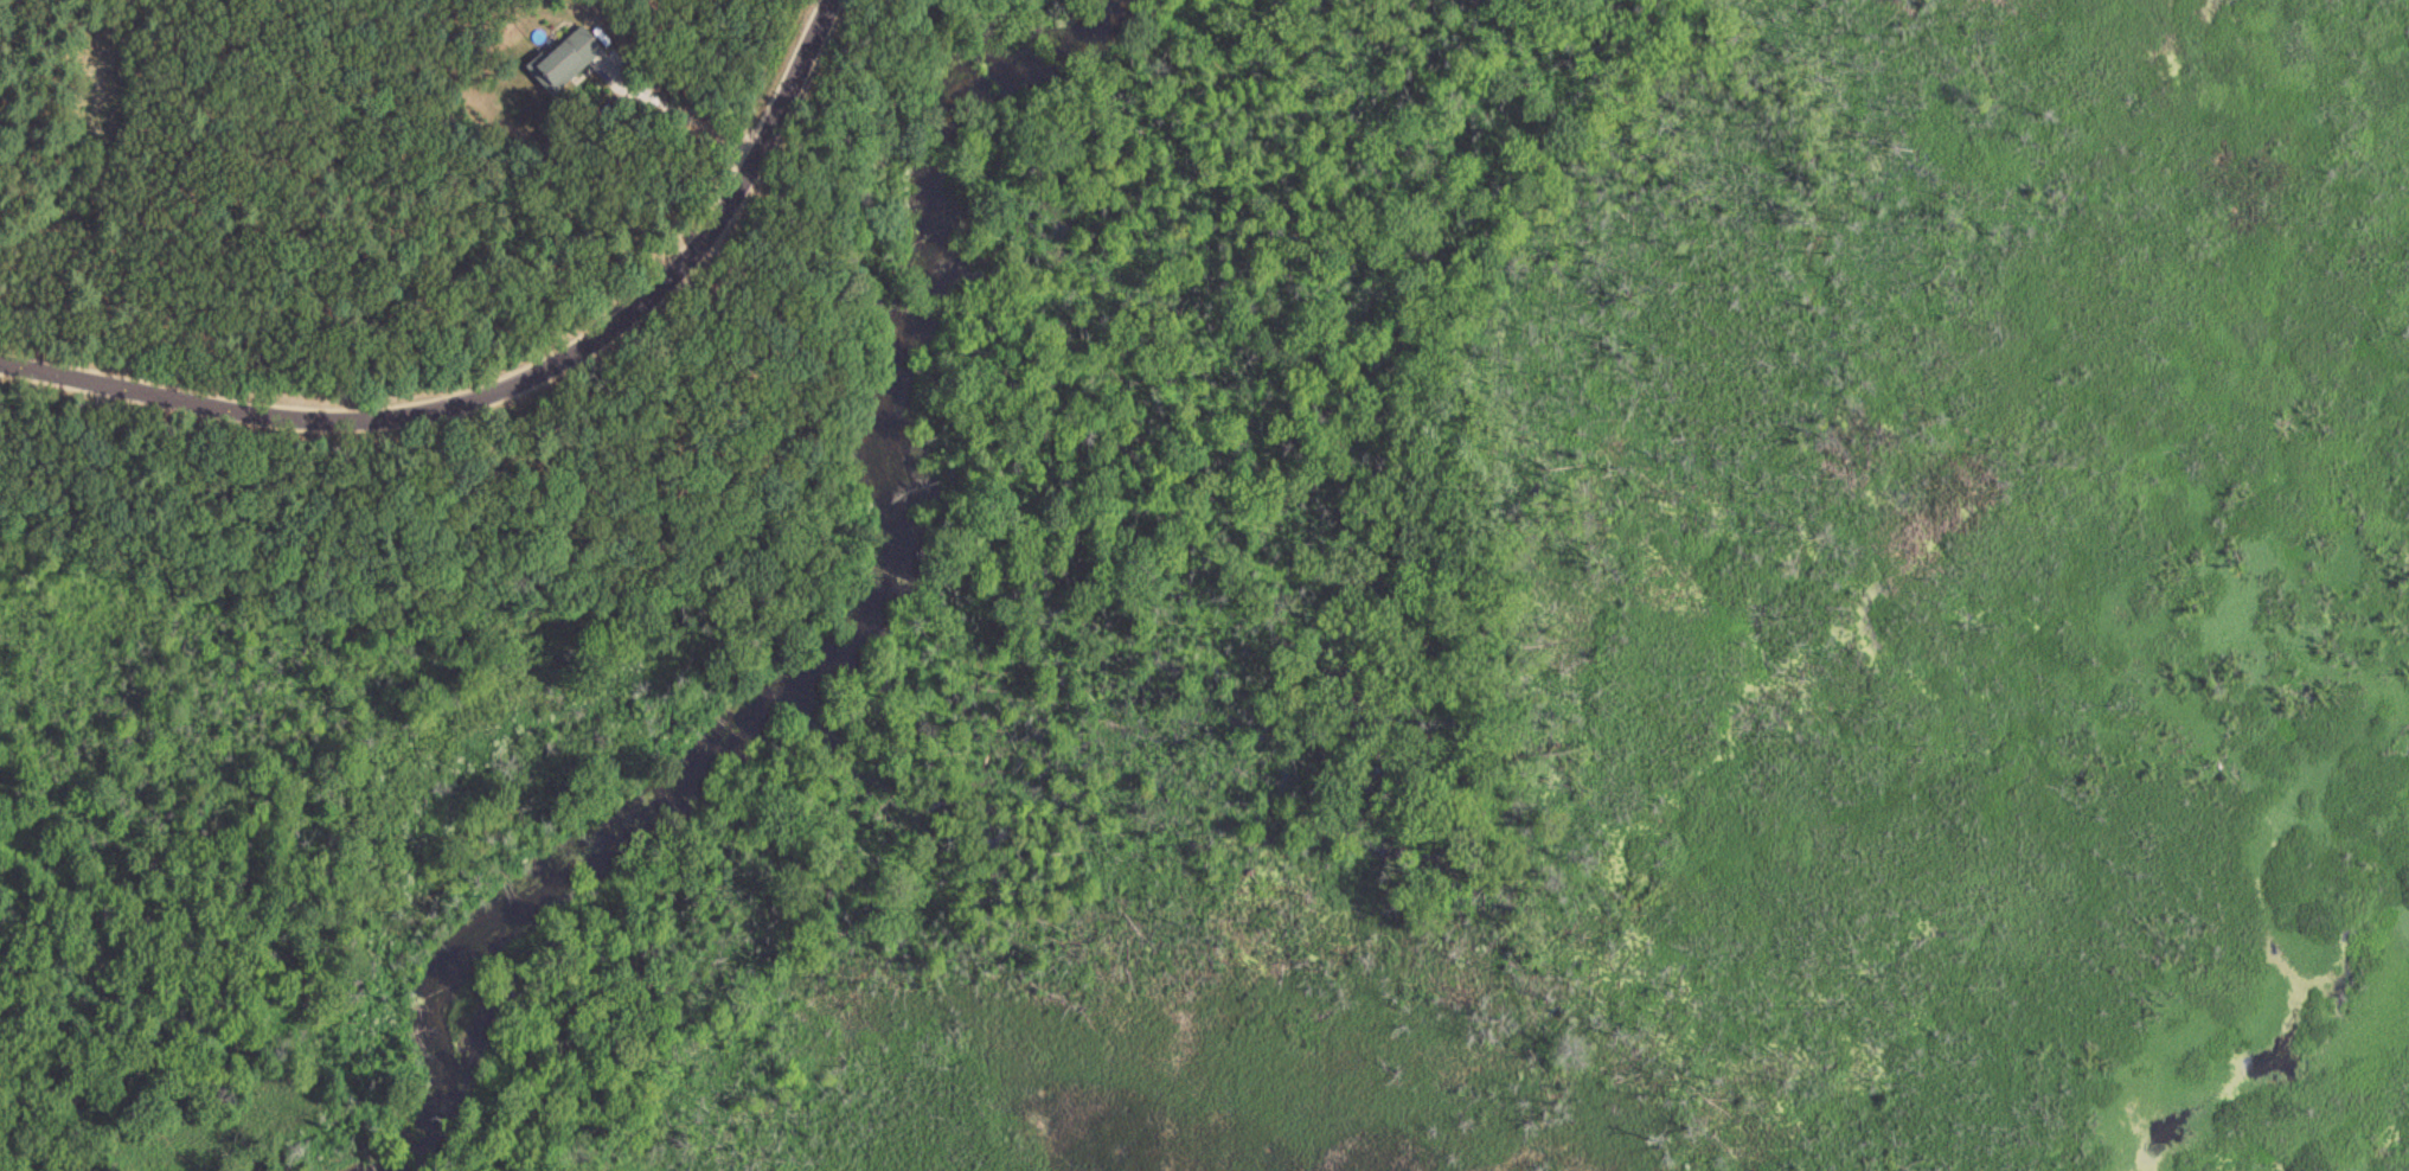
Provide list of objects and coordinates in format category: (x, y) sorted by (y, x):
building: (569, 58)
road: (674, 104)
road: (493, 370)

